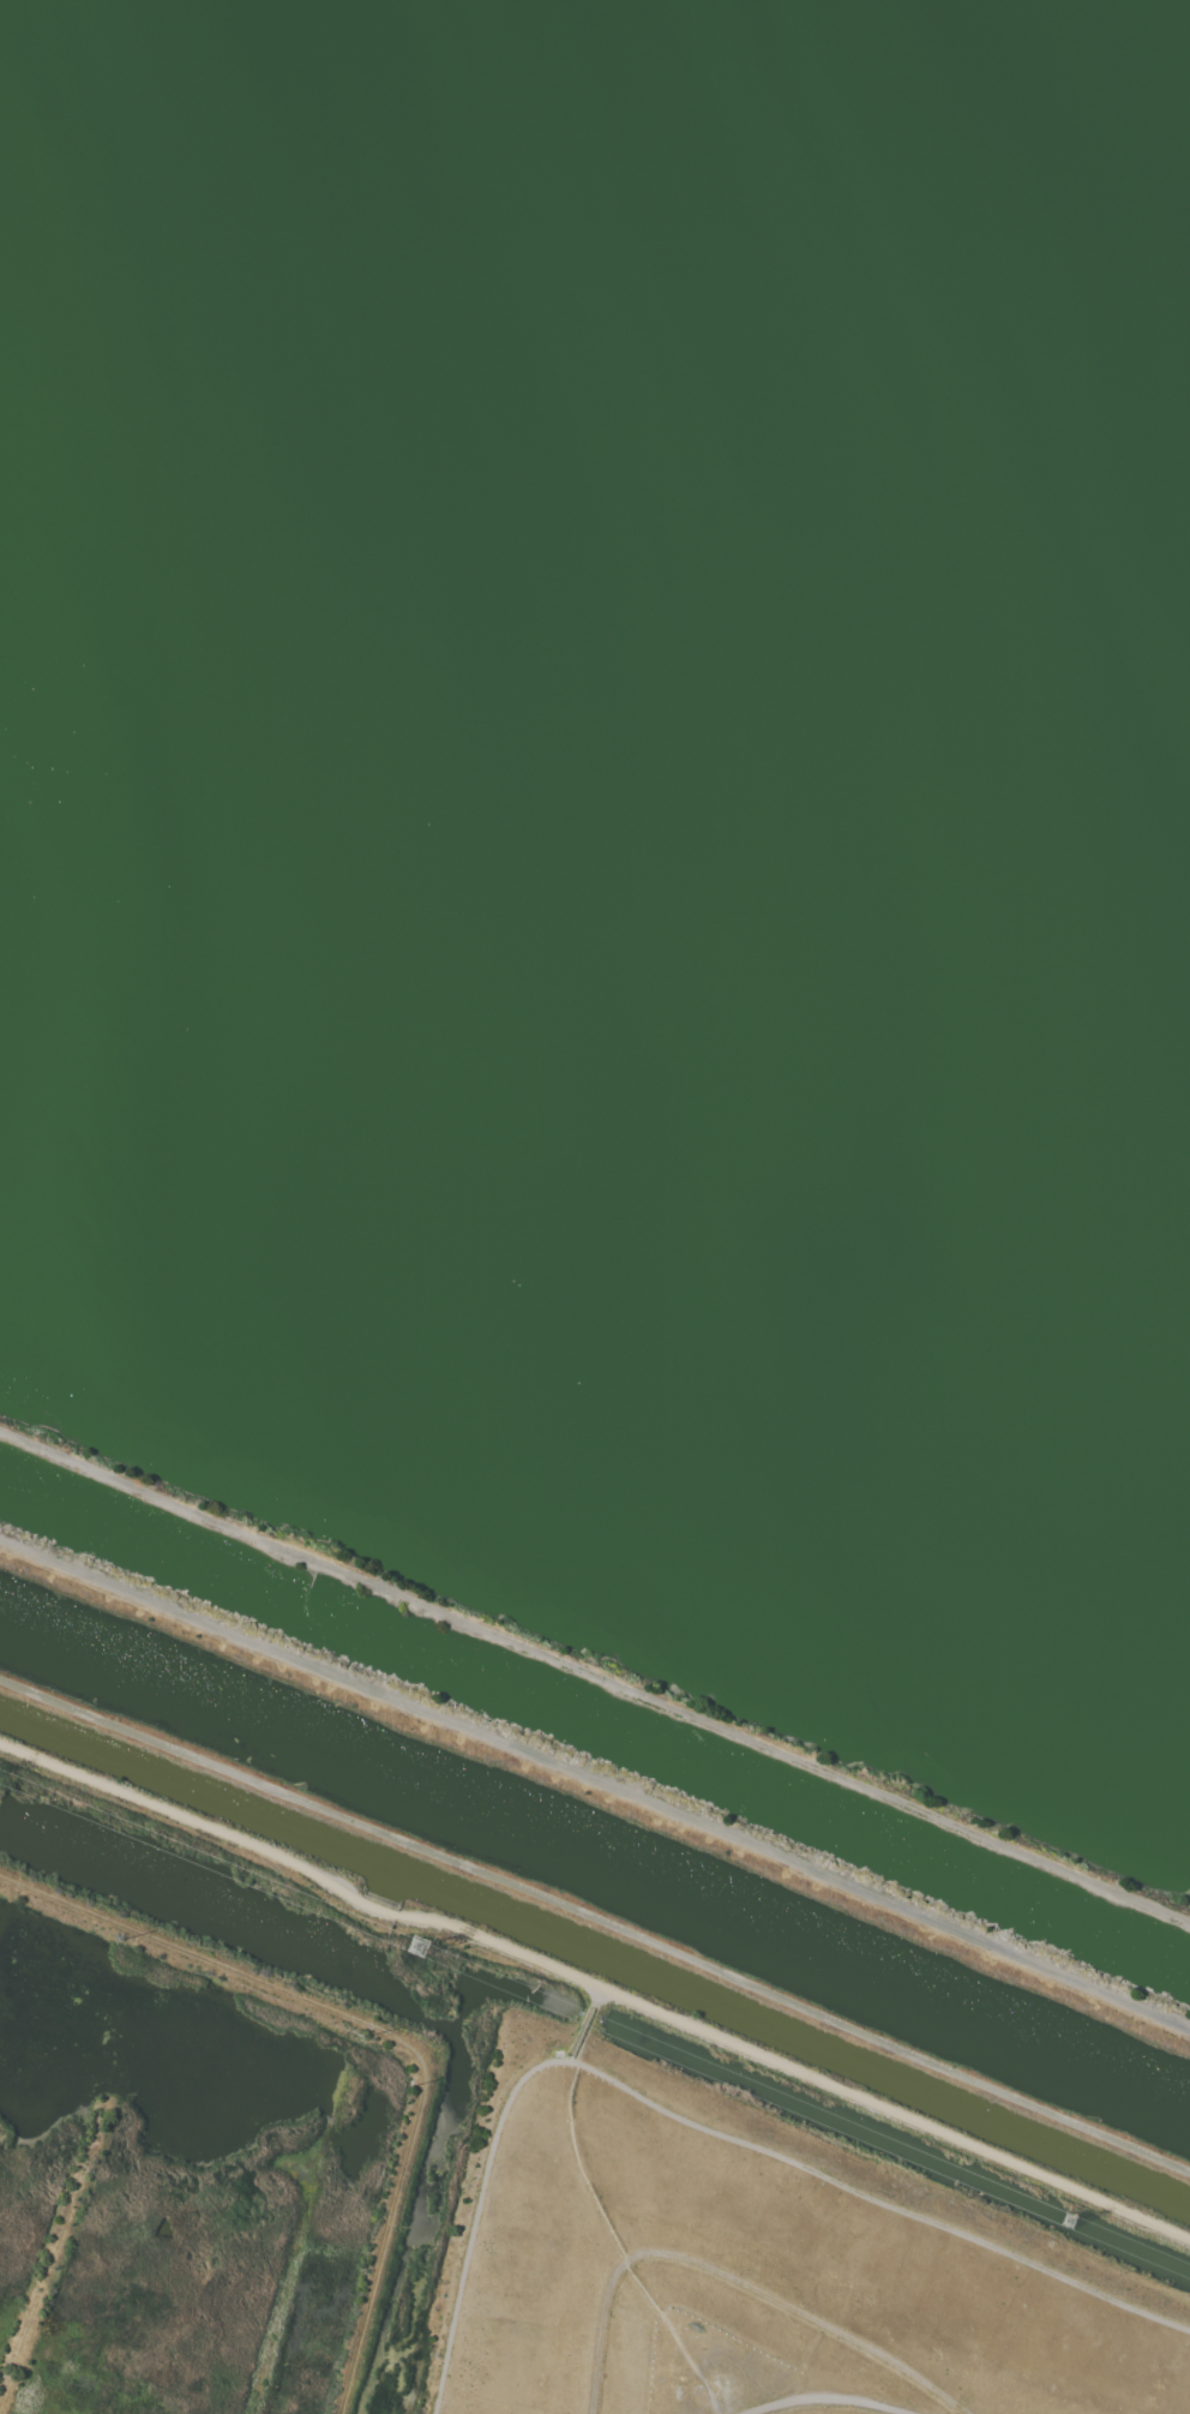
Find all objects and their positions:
road: (595, 1673)
road: (595, 1785)
road: (300, 1869)
road: (597, 1919)
power tower: (415, 1952)
road: (584, 2024)
road: (895, 2110)
road: (691, 2125)
power tower: (1070, 2223)
road: (618, 2245)
landfill: (738, 2268)
road: (729, 2272)
road: (830, 2395)

